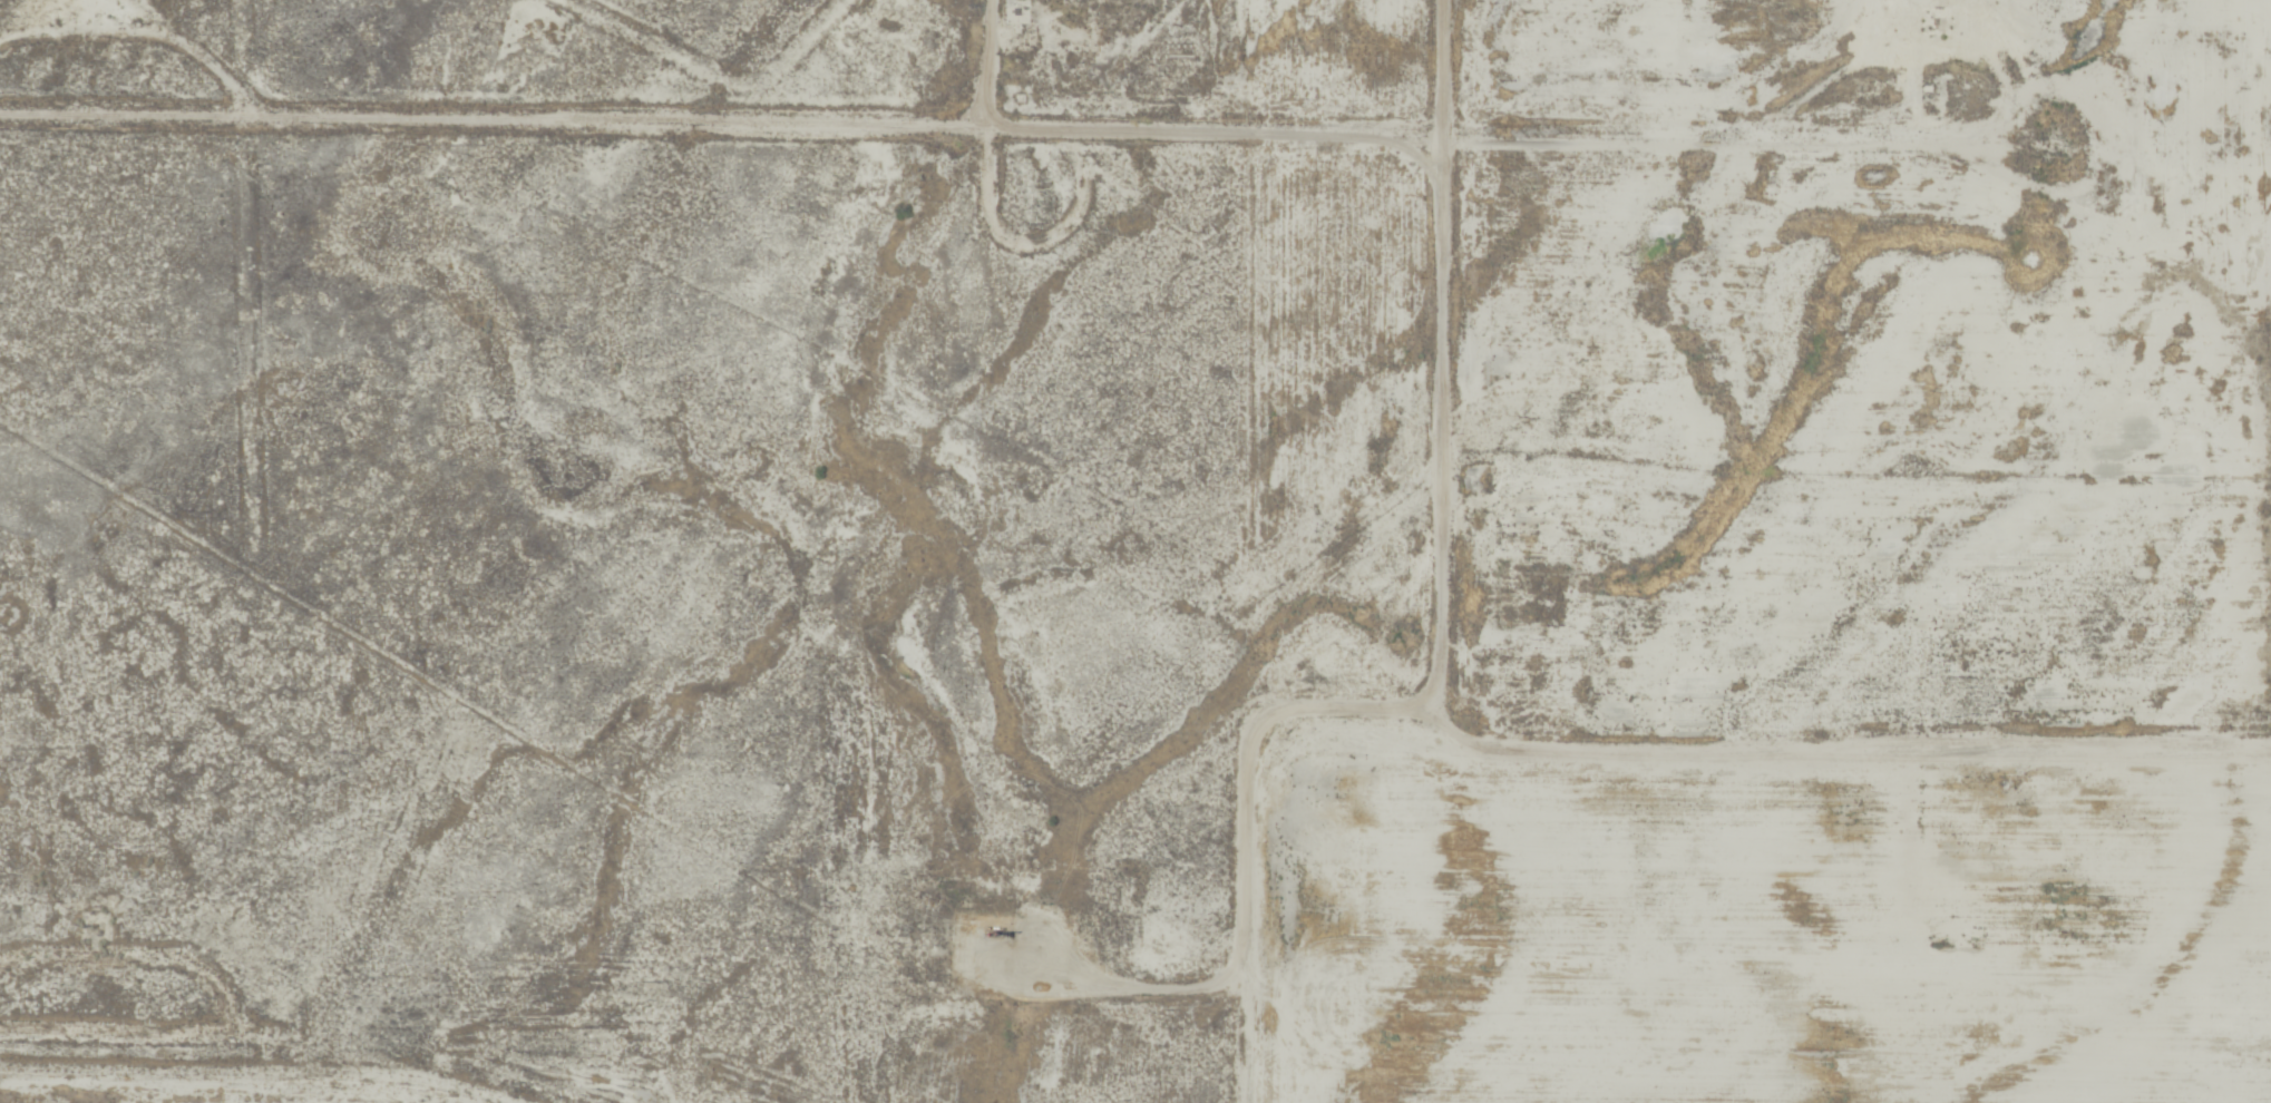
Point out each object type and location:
road: (983, 62)
road: (886, 125)
road: (1909, 139)
road: (1485, 754)
road: (28, 1045)

